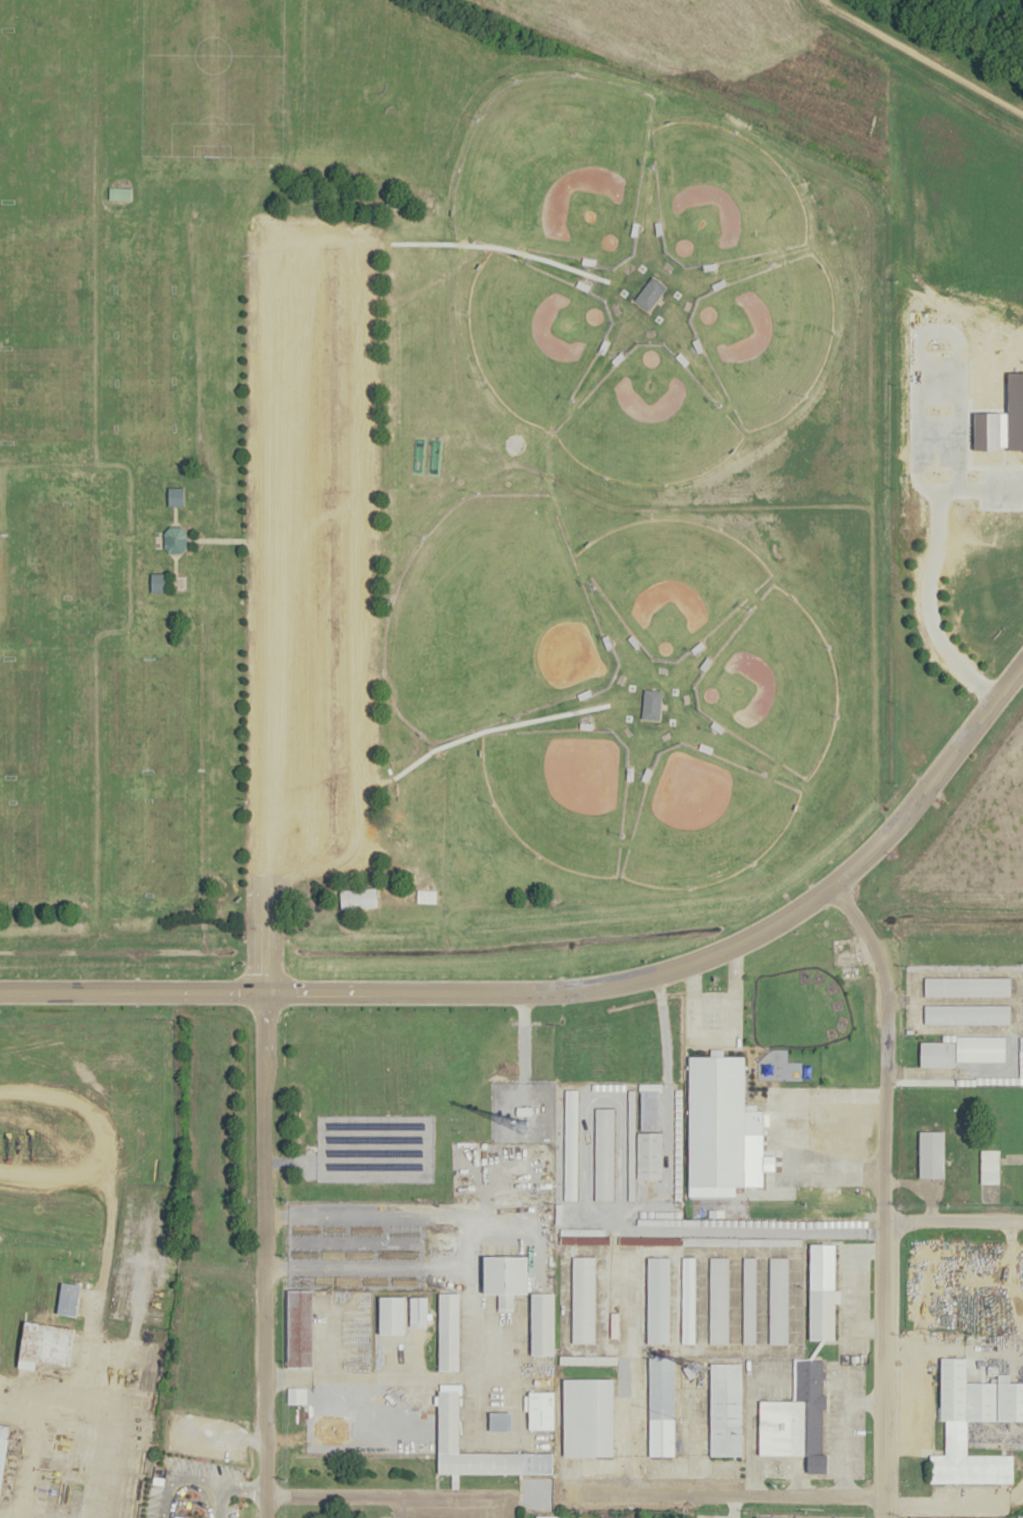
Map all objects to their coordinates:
road: (925, 59)
park: (356, 67)
park: (204, 82)
park: (36, 83)
crop: (835, 133)
park: (555, 169)
building: (119, 194)
park: (719, 194)
park: (150, 261)
building: (648, 292)
park: (145, 314)
park: (530, 334)
park: (766, 336)
park: (27, 364)
park: (144, 369)
park: (646, 422)
park: (141, 426)
building: (416, 455)
building: (432, 456)
building: (176, 497)
park: (419, 501)
road: (173, 516)
building: (174, 540)
road: (217, 540)
park: (65, 555)
road: (174, 573)
park: (669, 579)
building: (158, 581)
park: (491, 619)
park: (772, 683)
building: (651, 703)
park: (19, 706)
park: (145, 706)
park: (559, 792)
park: (702, 819)
park: (18, 845)
park: (143, 848)
building: (426, 896)
building: (358, 898)
building: (967, 985)
road: (574, 987)
building: (966, 1013)
road: (720, 1038)
building: (937, 1053)
building: (720, 1122)
road: (781, 1130)
building: (648, 1134)
building: (569, 1144)
building: (602, 1153)
building: (630, 1153)
building: (931, 1154)
building: (989, 1166)
road: (883, 1194)
road: (953, 1218)
building: (681, 1239)
road: (262, 1254)
building: (506, 1277)
building: (687, 1298)
building: (68, 1299)
building: (581, 1299)
building: (657, 1299)
building: (717, 1299)
building: (747, 1300)
building: (777, 1300)
building: (823, 1310)
building: (418, 1311)
building: (391, 1313)
building: (541, 1322)
building: (299, 1328)
building: (448, 1330)
road: (140, 1335)
building: (45, 1344)
building: (591, 1359)
road: (65, 1380)
building: (296, 1394)
building: (660, 1405)
building: (725, 1409)
building: (540, 1410)
building: (588, 1416)
building: (448, 1418)
building: (796, 1419)
building: (499, 1421)
building: (956, 1436)
building: (3, 1446)
road: (723, 1492)
building: (551, 1516)
building: (618, 1516)
building: (181, 1517)
building: (779, 1517)

